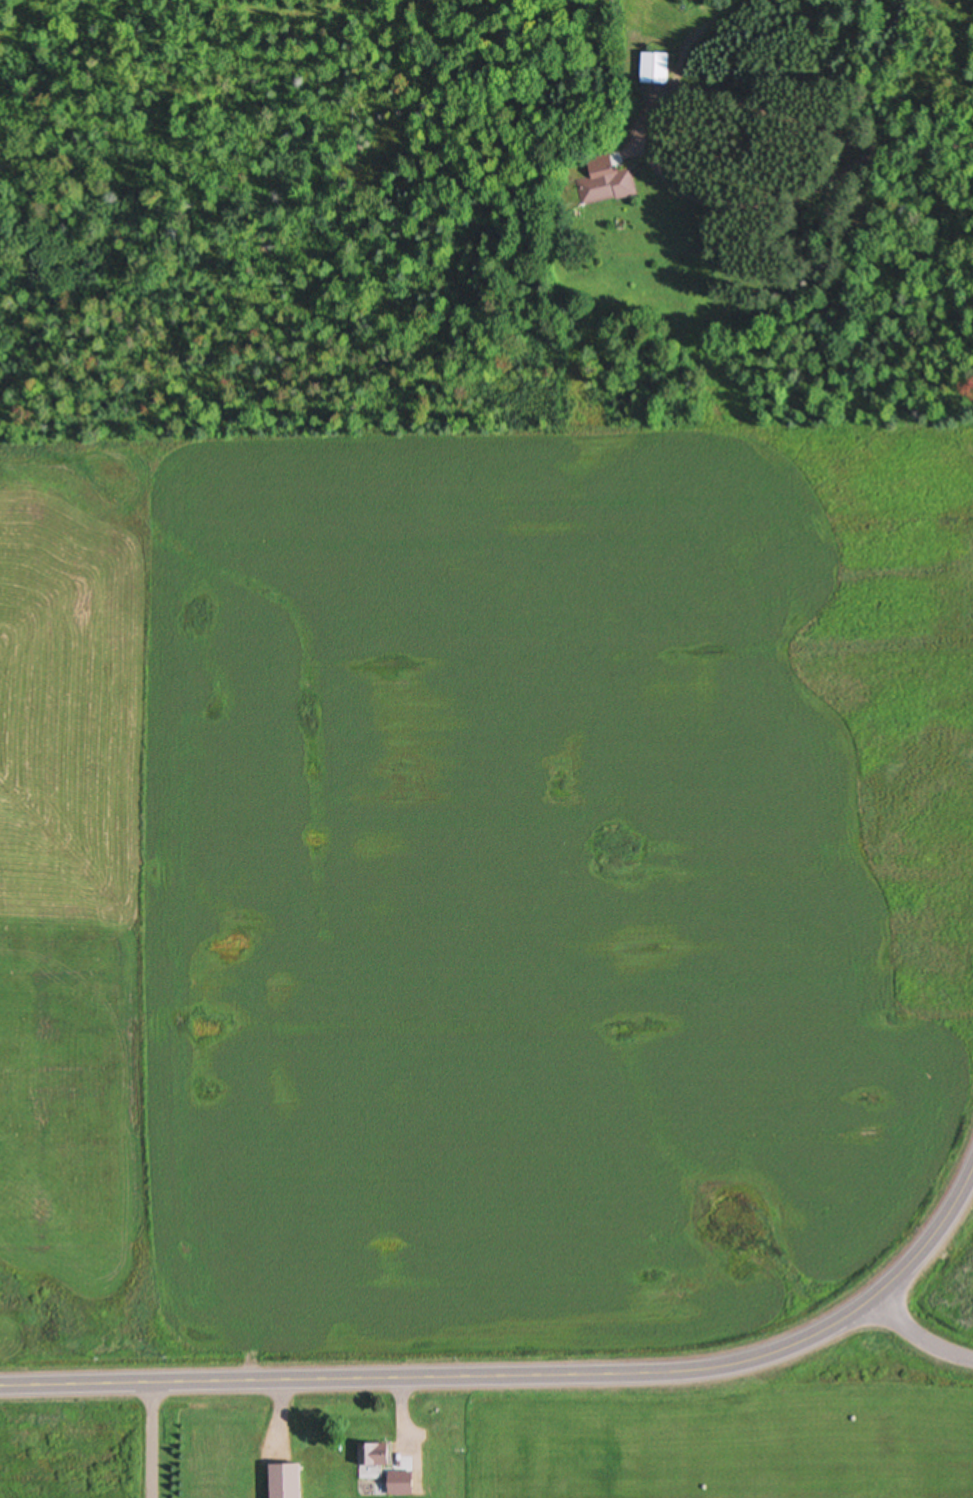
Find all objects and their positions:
building: (655, 69)
building: (604, 182)
road: (930, 1240)
road: (918, 1338)
road: (444, 1379)
building: (373, 1455)
building: (281, 1480)
building: (396, 1484)

